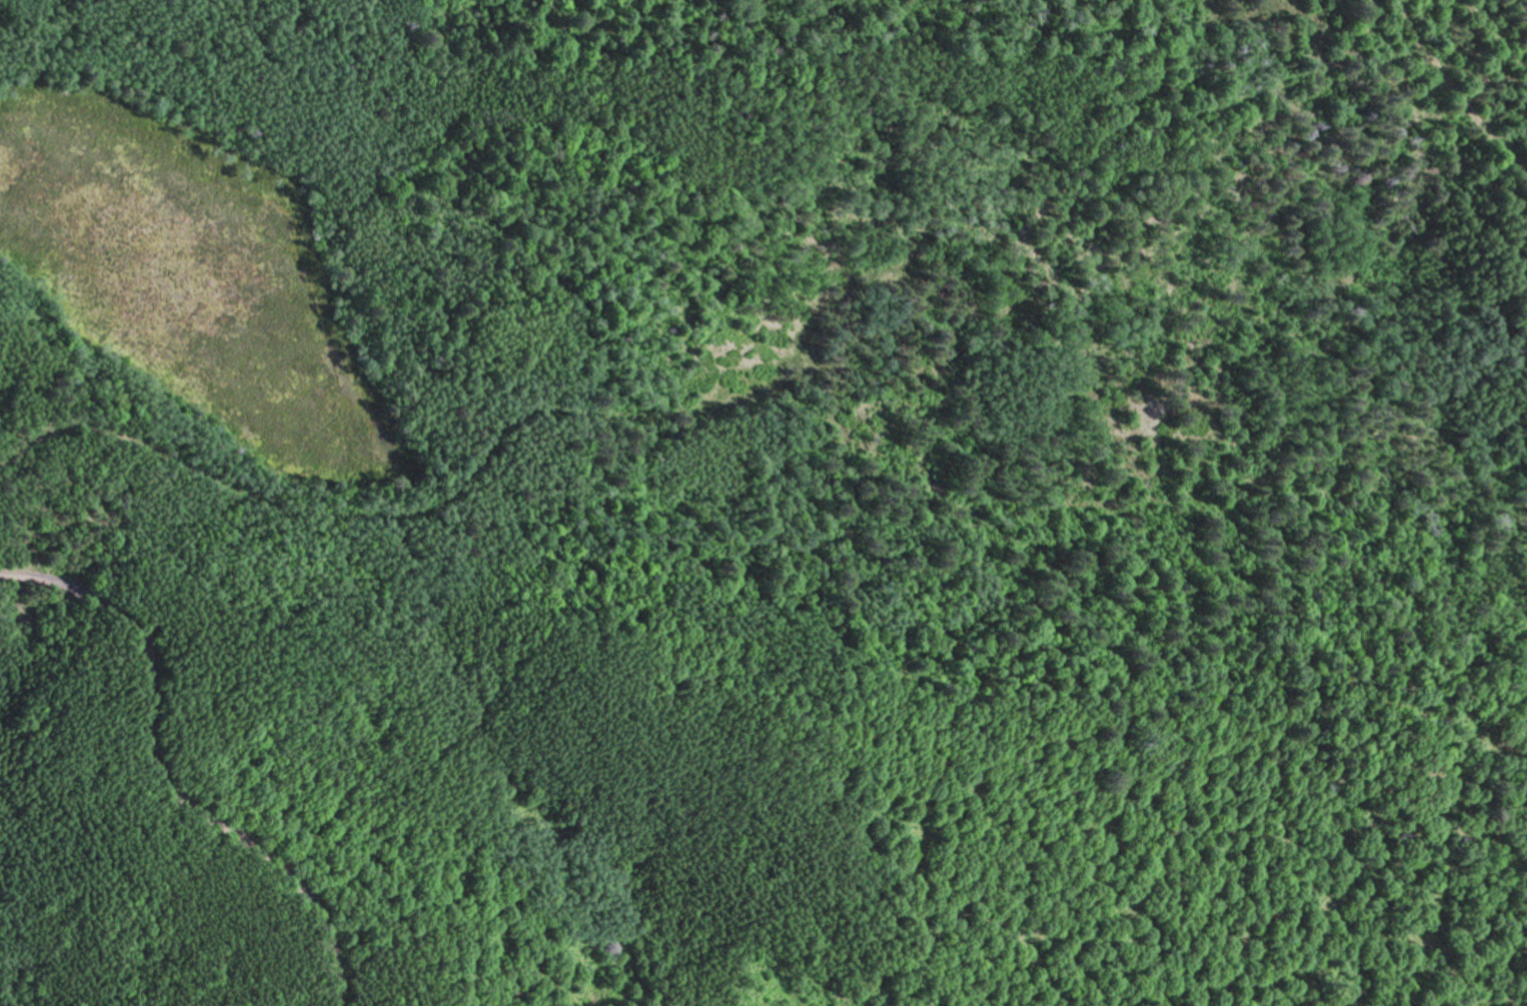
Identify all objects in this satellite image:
road: (1453, 98)

